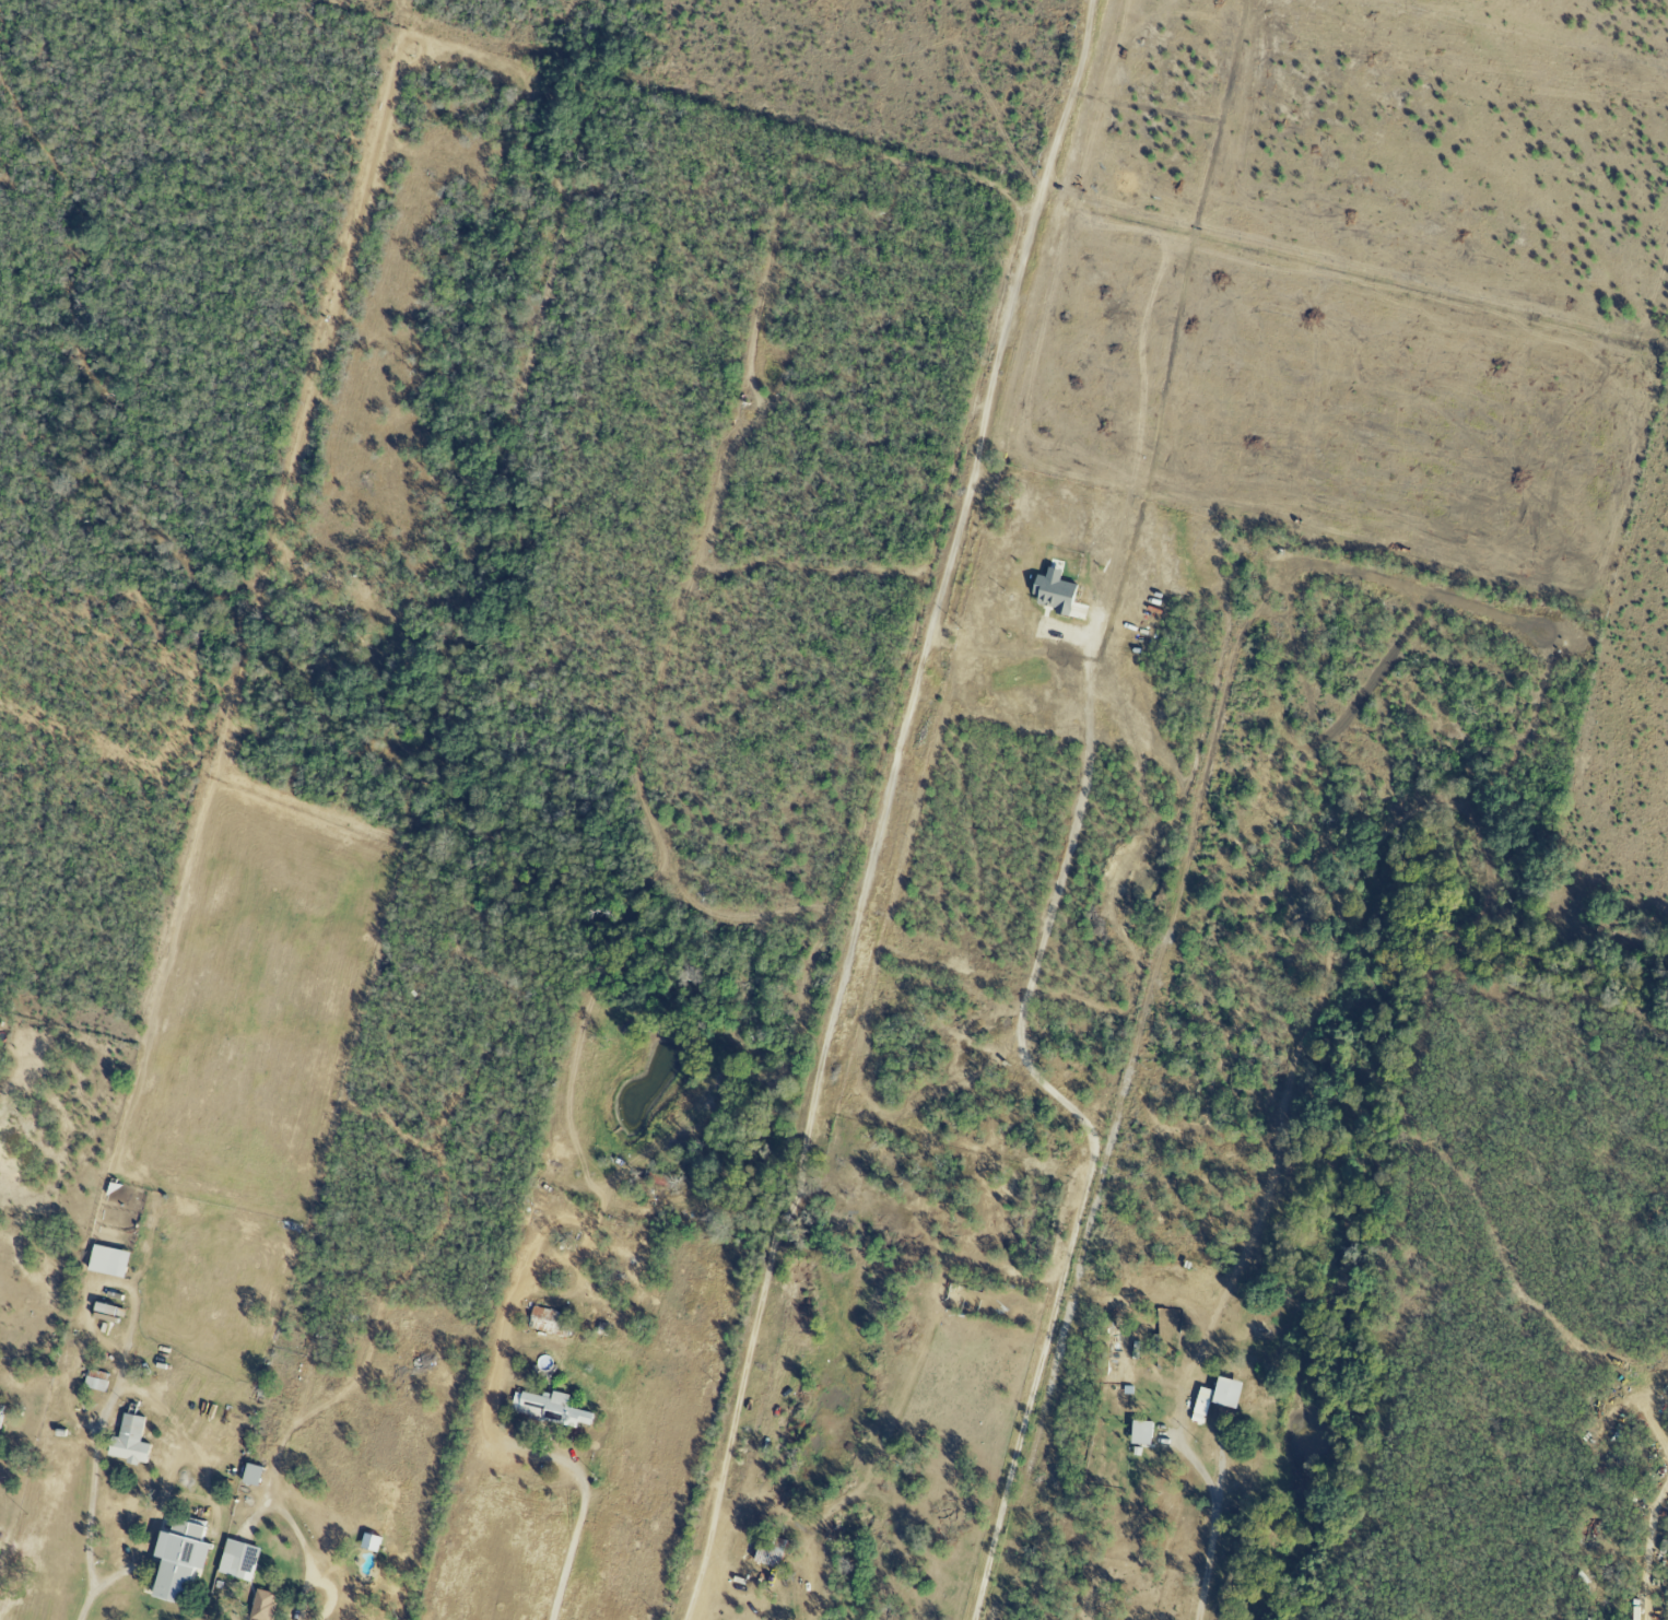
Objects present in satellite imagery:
building: (1056, 592)
road: (882, 809)
road: (1088, 1129)
road: (589, 1225)
building: (110, 1261)
building: (551, 1322)
building: (97, 1380)
building: (550, 1409)
road: (93, 1441)
building: (131, 1441)
road: (530, 1452)
building: (1599, 1474)
building: (254, 1475)
road: (172, 1484)
road: (1214, 1524)
road: (297, 1538)
road: (1648, 1538)
building: (773, 1551)
building: (181, 1560)
building: (239, 1560)
building: (263, 1606)

